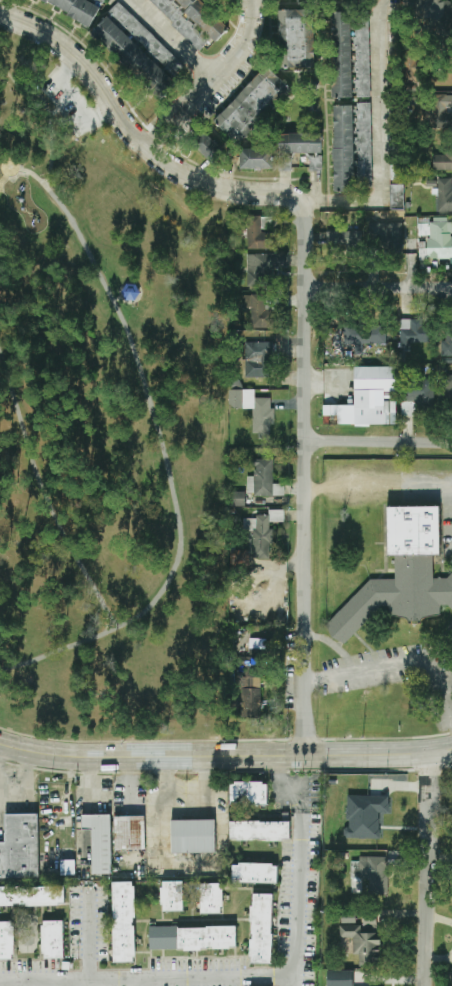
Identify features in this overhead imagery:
building: (99, 1)
building: (77, 8)
building: (440, 14)
building: (192, 20)
building: (145, 37)
road: (175, 39)
building: (296, 39)
building: (341, 55)
building: (133, 57)
road: (214, 81)
building: (251, 104)
building: (442, 112)
road: (48, 114)
road: (132, 134)
road: (379, 139)
building: (300, 143)
building: (364, 144)
building: (208, 147)
building: (343, 148)
building: (257, 159)
building: (442, 161)
building: (315, 162)
building: (396, 170)
road: (15, 176)
building: (444, 195)
building: (397, 196)
building: (258, 235)
building: (387, 237)
building: (344, 238)
building: (264, 268)
road: (378, 287)
building: (130, 291)
road: (118, 299)
building: (259, 312)
building: (412, 332)
building: (364, 336)
building: (447, 339)
building: (259, 359)
building: (447, 391)
building: (417, 395)
building: (370, 398)
building: (253, 409)
park: (104, 424)
road: (378, 442)
road: (164, 453)
road: (303, 477)
building: (263, 480)
road: (45, 495)
building: (237, 499)
building: (262, 533)
building: (400, 575)
road: (395, 667)
building: (252, 684)
road: (225, 754)
road: (25, 779)
building: (248, 793)
building: (365, 816)
building: (259, 830)
building: (129, 833)
building: (192, 836)
building: (100, 842)
building: (20, 847)
building: (67, 867)
road: (431, 868)
building: (254, 873)
building: (375, 873)
building: (32, 896)
building: (172, 896)
building: (211, 898)
building: (350, 918)
building: (123, 922)
building: (261, 929)
road: (88, 938)
building: (192, 938)
building: (52, 939)
building: (6, 940)
building: (364, 940)
road: (260, 976)
building: (339, 978)
road: (286, 980)
road: (52, 983)

